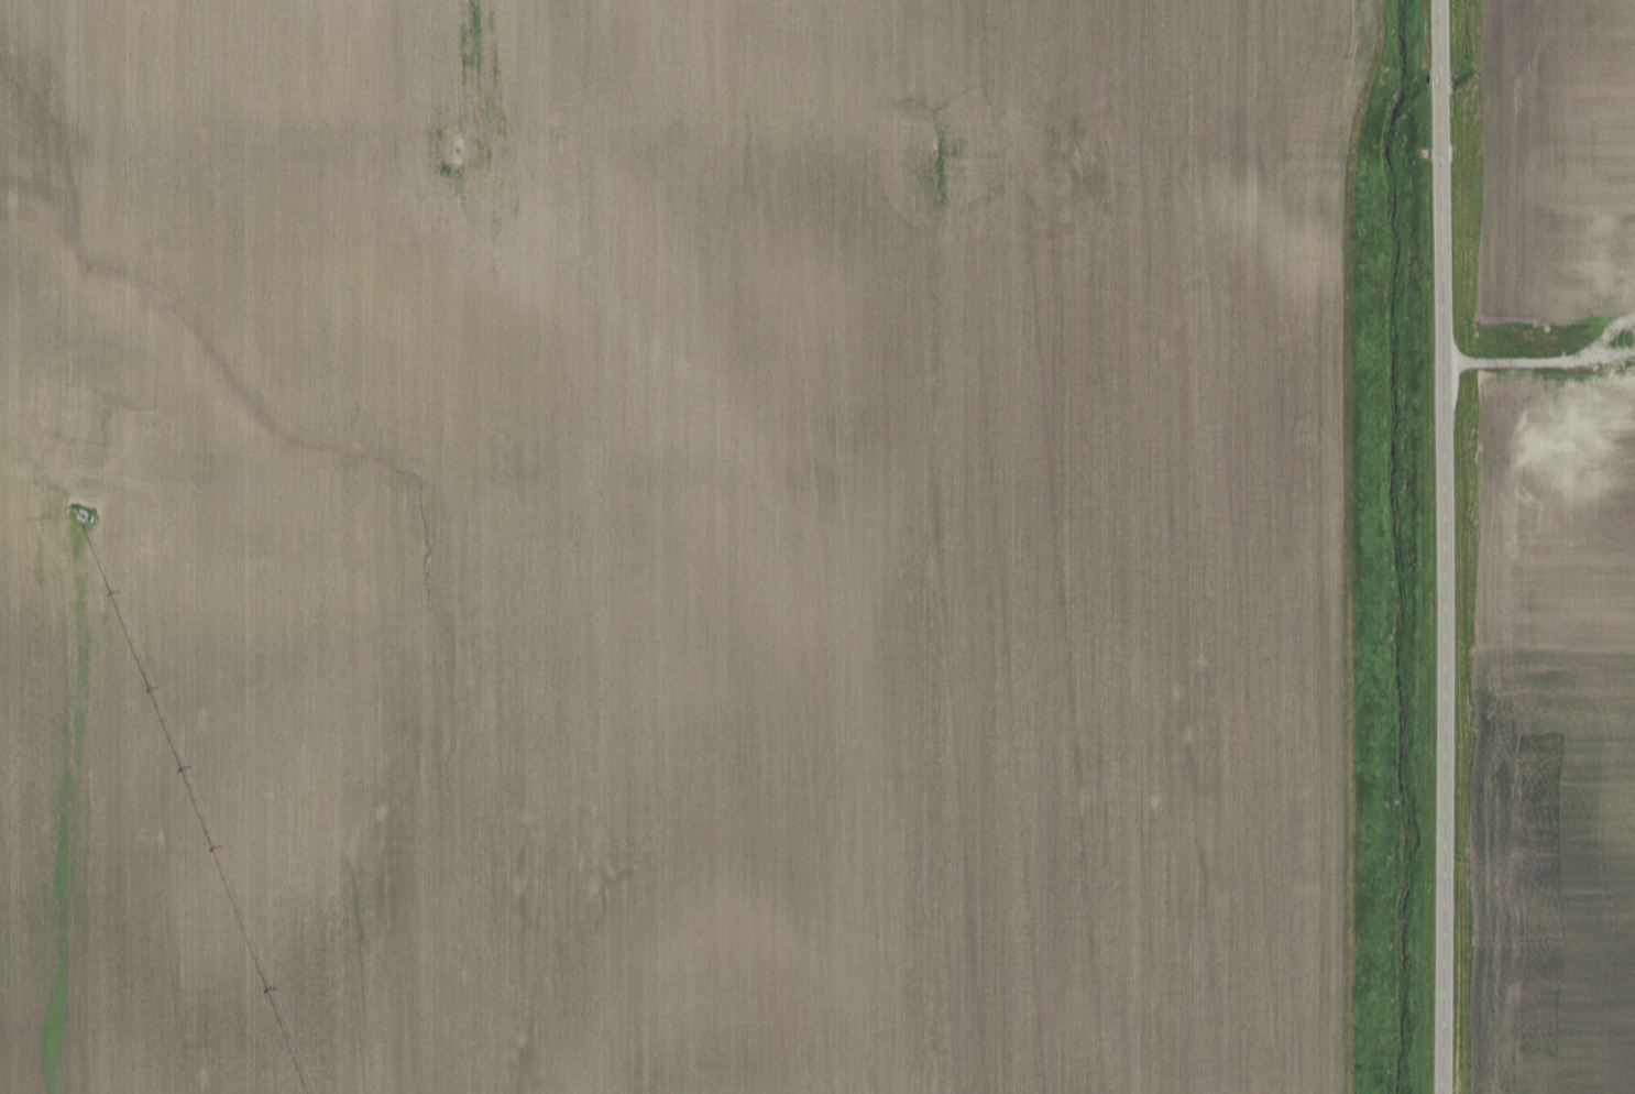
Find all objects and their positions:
road: (1438, 547)

